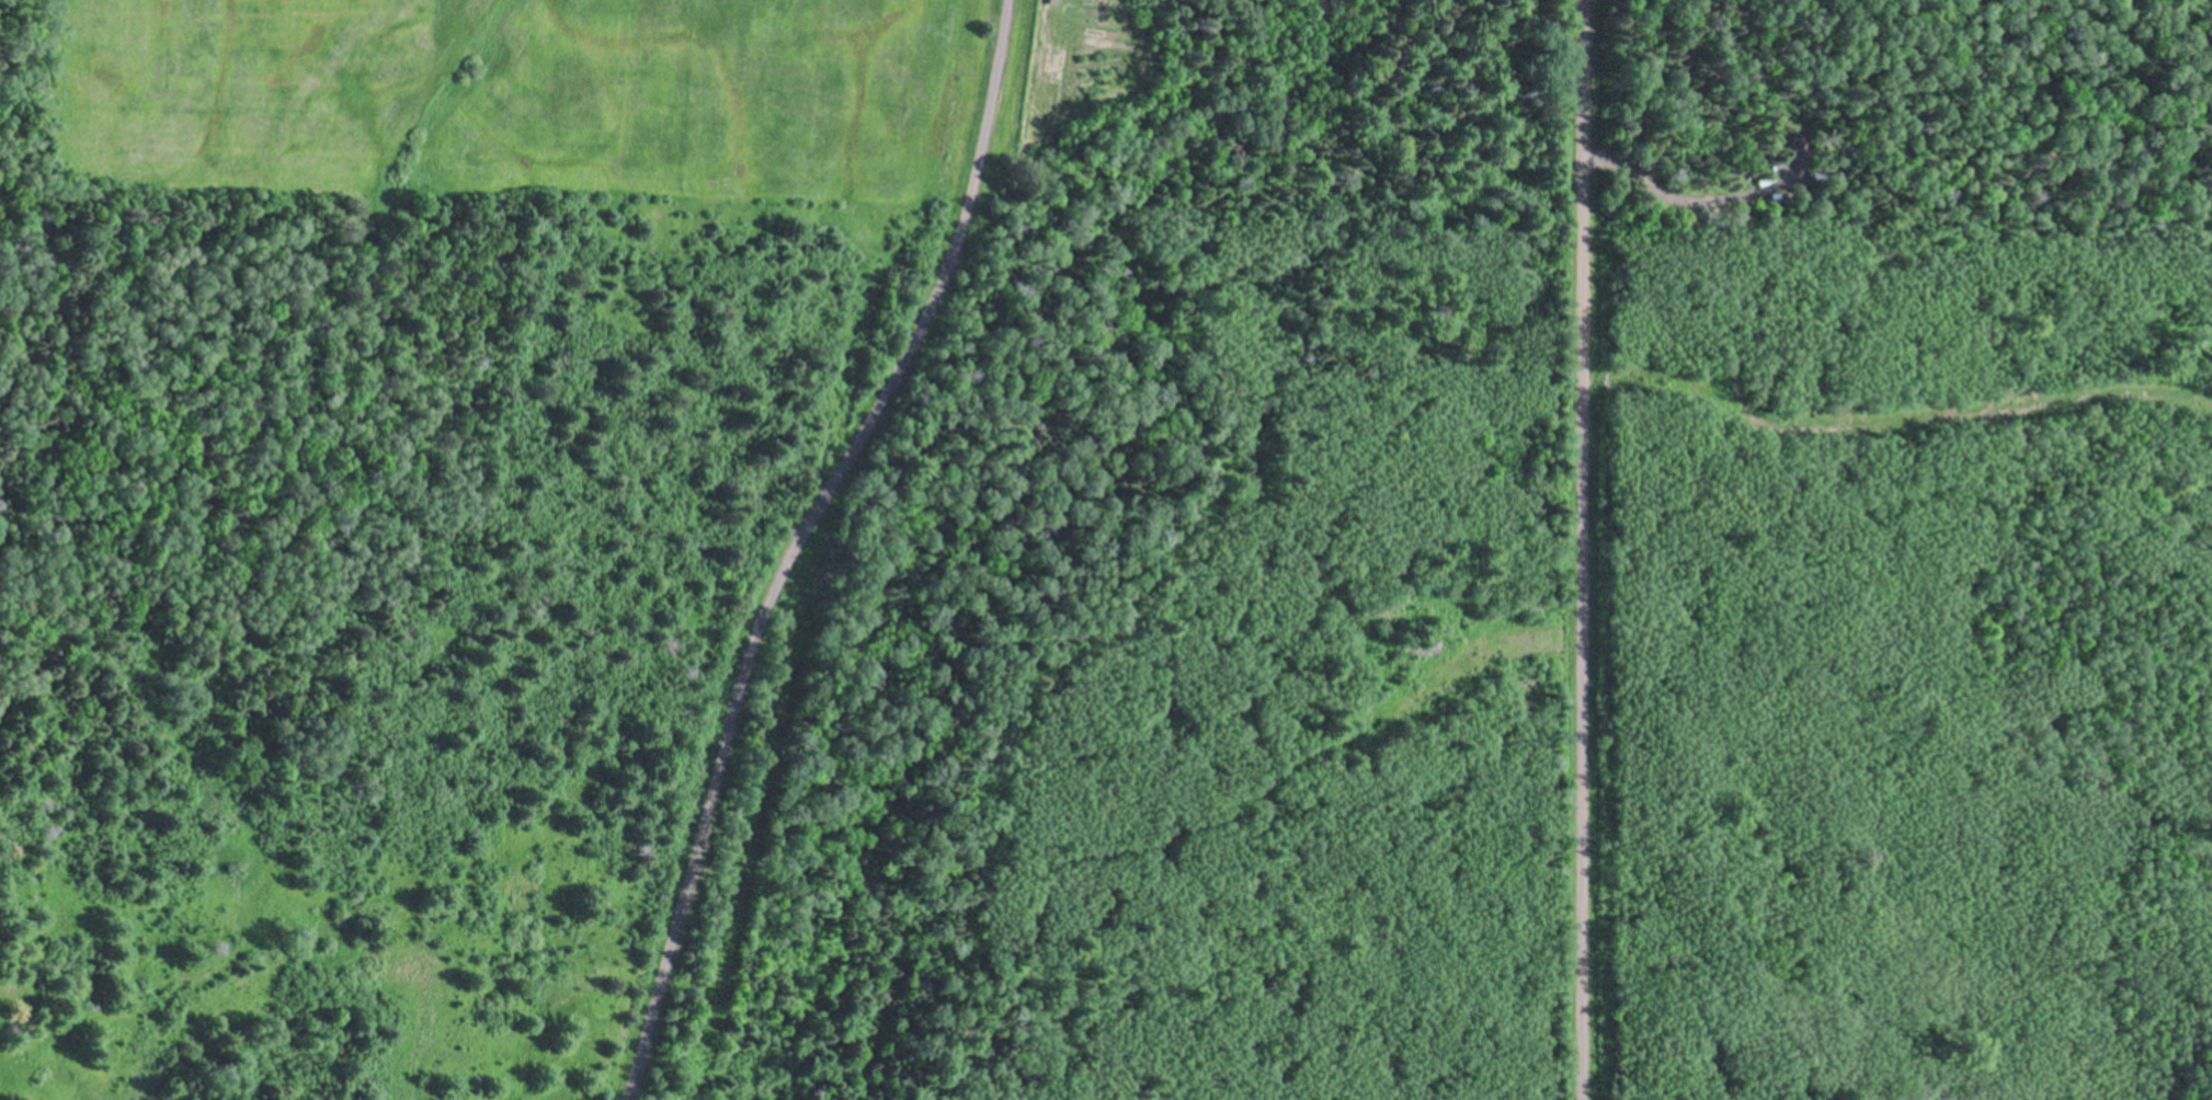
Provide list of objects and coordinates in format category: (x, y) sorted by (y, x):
road: (790, 538)
road: (1583, 550)

